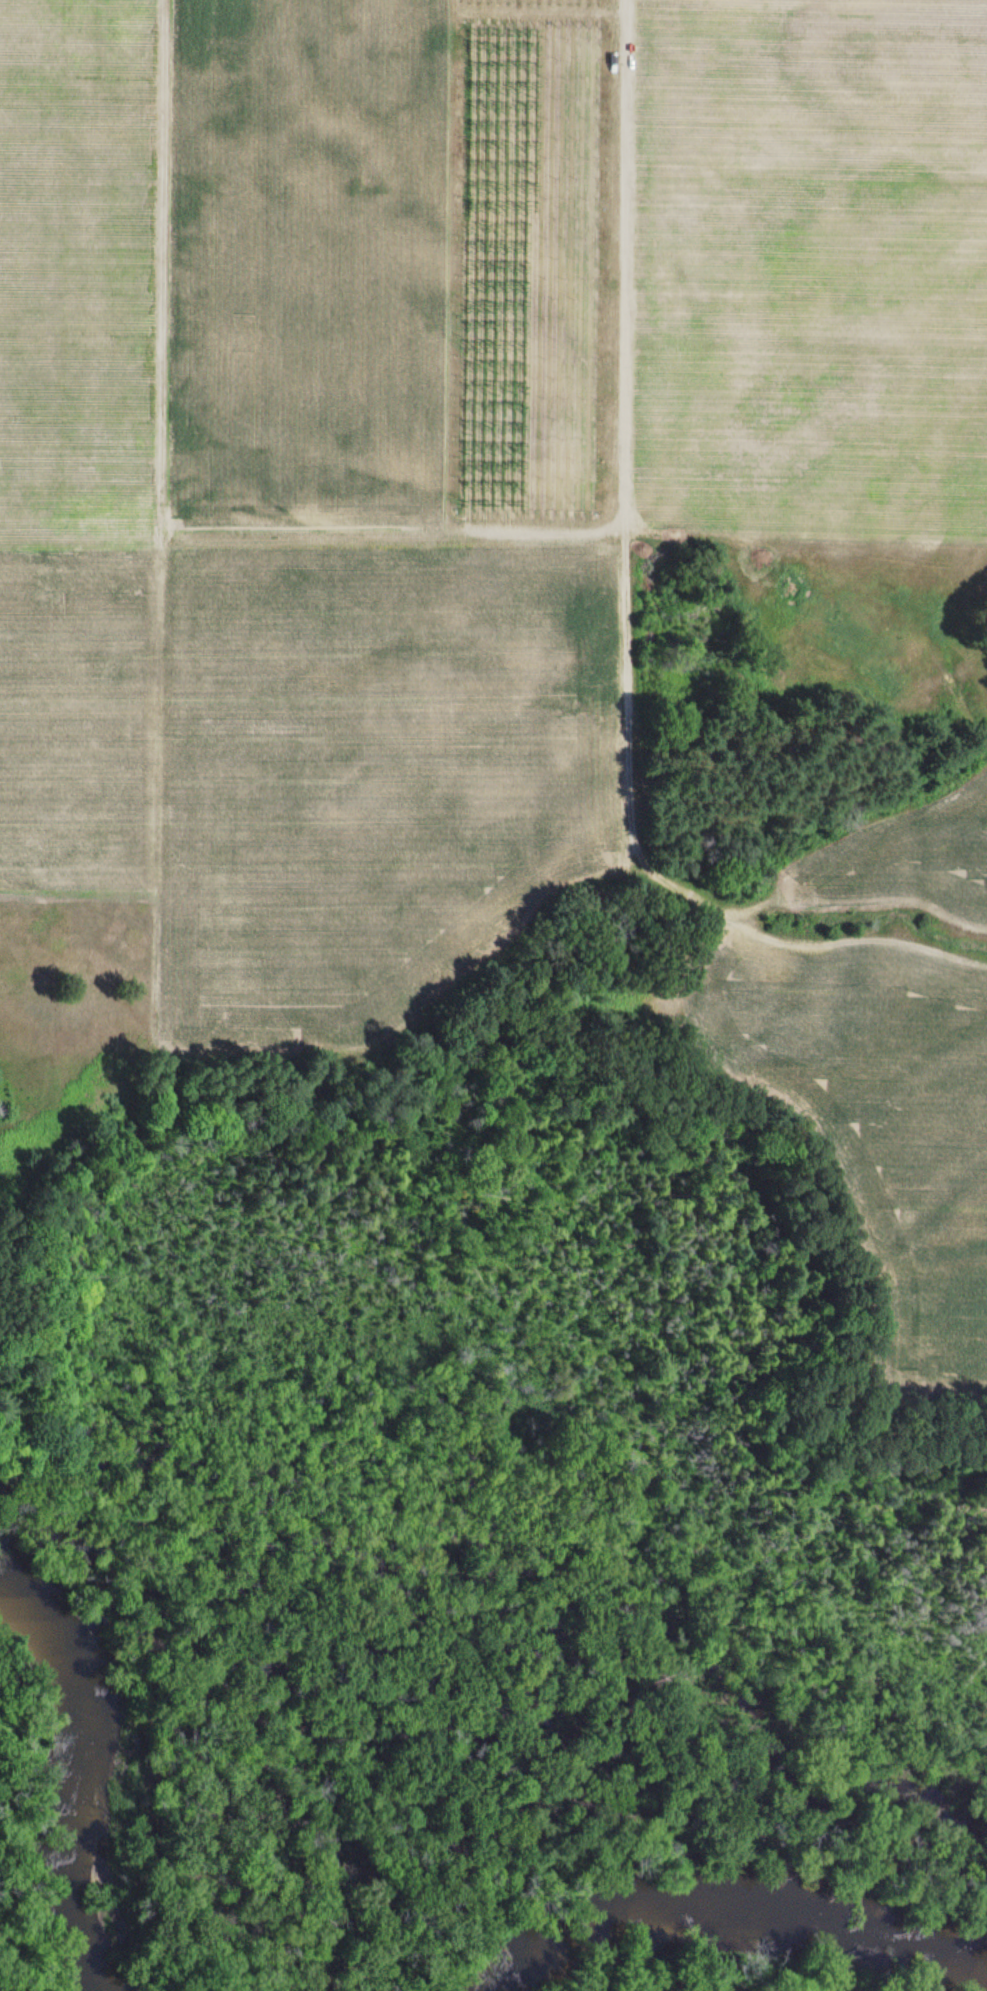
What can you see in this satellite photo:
river: (78, 1777)
river: (628, 1907)
river: (889, 1946)

